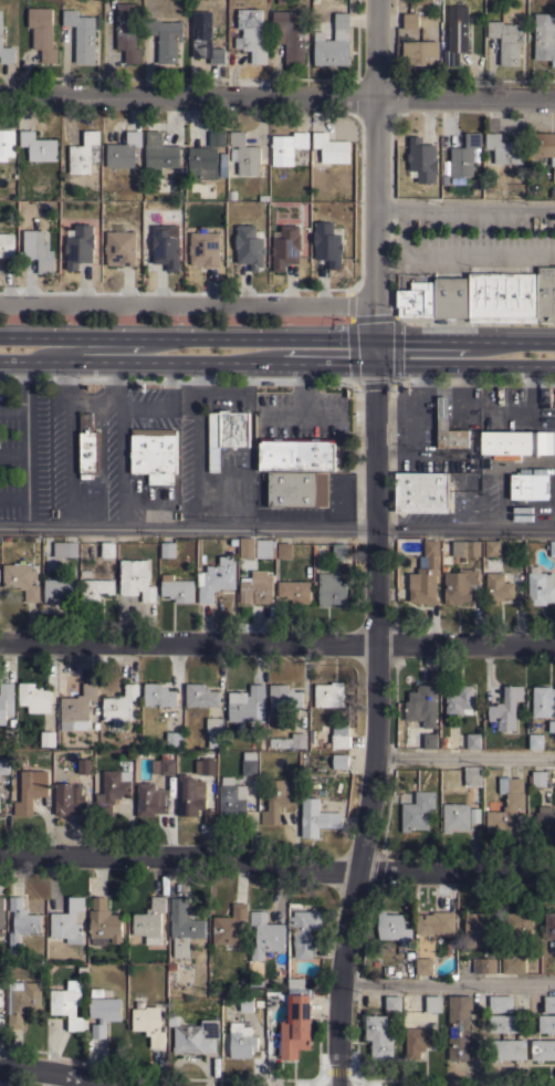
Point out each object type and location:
building: (279, 1)
building: (313, 1)
building: (410, 20)
building: (127, 31)
building: (42, 32)
building: (251, 33)
building: (290, 33)
building: (457, 33)
building: (82, 34)
building: (544, 35)
building: (166, 38)
building: (206, 38)
building: (506, 40)
building: (334, 42)
building: (6, 46)
building: (420, 52)
road: (276, 95)
building: (217, 137)
building: (7, 143)
building: (38, 146)
building: (287, 146)
building: (544, 146)
building: (329, 148)
building: (504, 148)
building: (123, 150)
building: (159, 150)
building: (84, 152)
building: (243, 153)
building: (464, 155)
building: (421, 160)
building: (203, 161)
building: (222, 164)
road: (376, 169)
building: (230, 195)
building: (262, 197)
road: (464, 206)
building: (327, 242)
building: (7, 244)
building: (80, 246)
building: (121, 246)
building: (249, 246)
building: (165, 247)
building: (285, 247)
building: (205, 248)
building: (38, 249)
road: (453, 254)
building: (546, 293)
building: (417, 296)
building: (451, 296)
building: (503, 296)
road: (187, 297)
road: (186, 340)
traffic signals: (374, 340)
road: (421, 340)
road: (512, 340)
road: (121, 348)
road: (374, 351)
road: (139, 363)
road: (327, 363)
traffic signals: (374, 363)
road: (452, 363)
road: (543, 363)
road: (303, 387)
road: (90, 400)
road: (164, 400)
road: (496, 410)
road: (302, 411)
building: (442, 413)
building: (226, 432)
building: (516, 441)
road: (196, 445)
building: (87, 447)
building: (155, 452)
building: (297, 453)
road: (69, 463)
road: (123, 463)
building: (528, 484)
building: (297, 489)
building: (421, 492)
road: (277, 526)
building: (247, 547)
building: (465, 547)
building: (492, 547)
building: (65, 549)
building: (107, 549)
building: (262, 549)
building: (552, 549)
building: (168, 550)
building: (284, 550)
building: (339, 551)
building: (426, 576)
building: (216, 577)
building: (136, 578)
building: (21, 579)
building: (459, 584)
building: (256, 587)
building: (498, 587)
building: (541, 587)
building: (59, 588)
building: (178, 588)
building: (331, 588)
building: (96, 589)
building: (294, 591)
road: (277, 641)
building: (159, 695)
building: (328, 695)
building: (200, 696)
building: (34, 697)
building: (283, 697)
building: (6, 700)
building: (459, 701)
building: (543, 701)
building: (247, 704)
building: (422, 704)
building: (119, 706)
building: (77, 708)
building: (505, 708)
road: (374, 725)
building: (214, 731)
building: (339, 737)
building: (48, 738)
building: (175, 739)
building: (290, 741)
building: (430, 741)
building: (473, 741)
building: (535, 741)
road: (464, 759)
building: (339, 761)
building: (249, 763)
building: (164, 764)
building: (4, 765)
building: (84, 766)
building: (208, 766)
building: (472, 775)
building: (543, 777)
building: (30, 790)
building: (112, 791)
building: (69, 798)
building: (153, 800)
building: (189, 800)
building: (232, 800)
building: (275, 801)
building: (506, 805)
building: (417, 811)
building: (458, 816)
building: (316, 817)
building: (545, 819)
road: (276, 867)
building: (1, 916)
building: (150, 920)
building: (69, 921)
building: (104, 922)
building: (434, 922)
building: (21, 923)
building: (230, 925)
building: (182, 926)
building: (520, 926)
building: (549, 926)
building: (394, 928)
building: (475, 929)
building: (304, 930)
building: (265, 934)
building: (483, 964)
building: (513, 964)
building: (423, 965)
road: (448, 983)
building: (1, 995)
building: (23, 1001)
building: (247, 1003)
building: (394, 1003)
building: (433, 1003)
building: (501, 1003)
building: (549, 1003)
building: (69, 1004)
building: (104, 1013)
building: (293, 1019)
building: (1, 1020)
building: (503, 1023)
building: (546, 1023)
building: (149, 1024)
building: (459, 1026)
building: (195, 1035)
building: (379, 1036)
building: (419, 1040)
building: (241, 1041)
building: (507, 1050)
building: (543, 1050)
road: (49, 1074)

